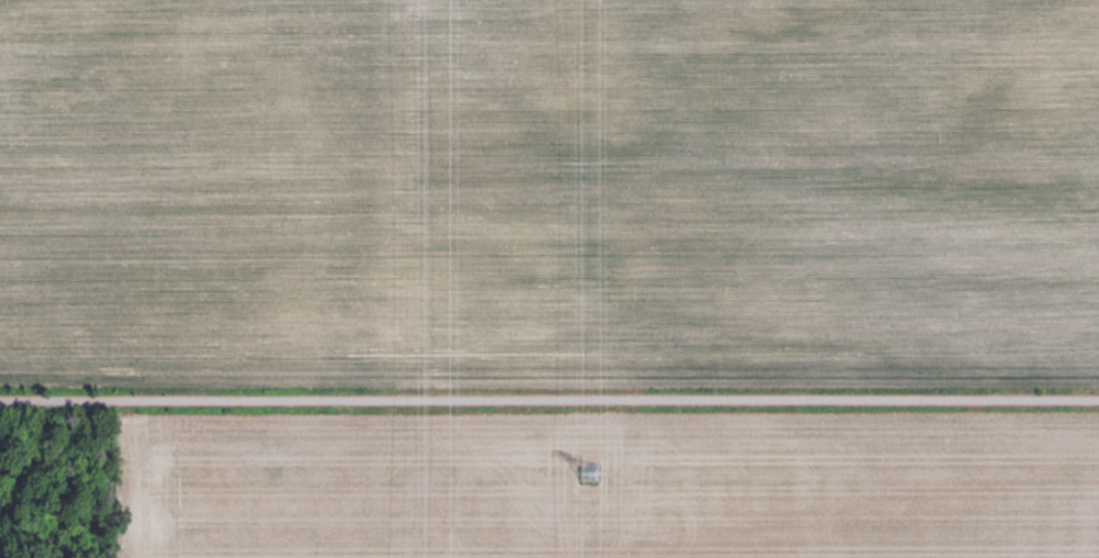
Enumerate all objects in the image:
road: (549, 397)
power tower: (588, 472)

